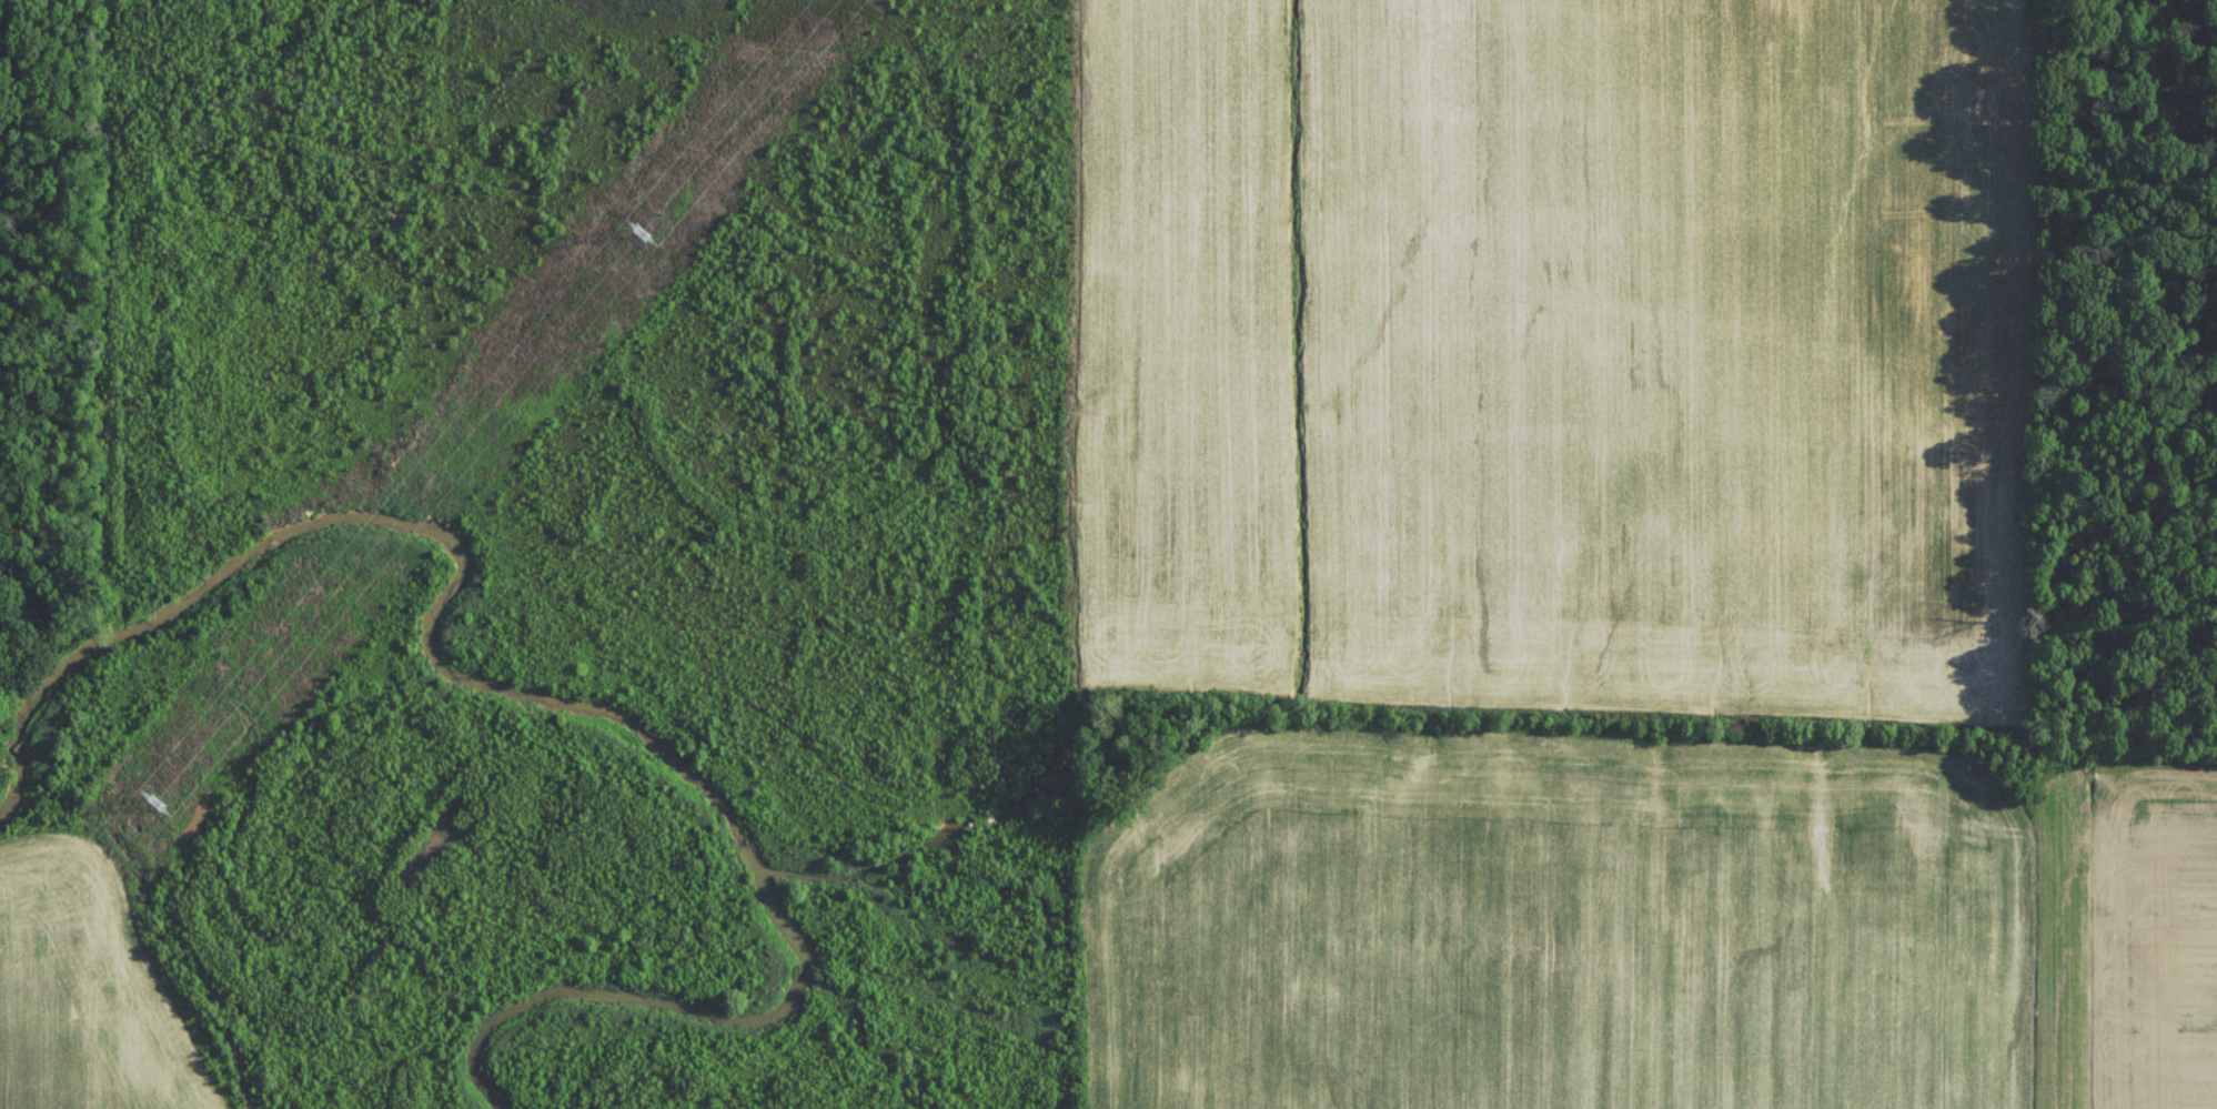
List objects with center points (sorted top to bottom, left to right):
power tower: (636, 240)
power tower: (152, 809)

